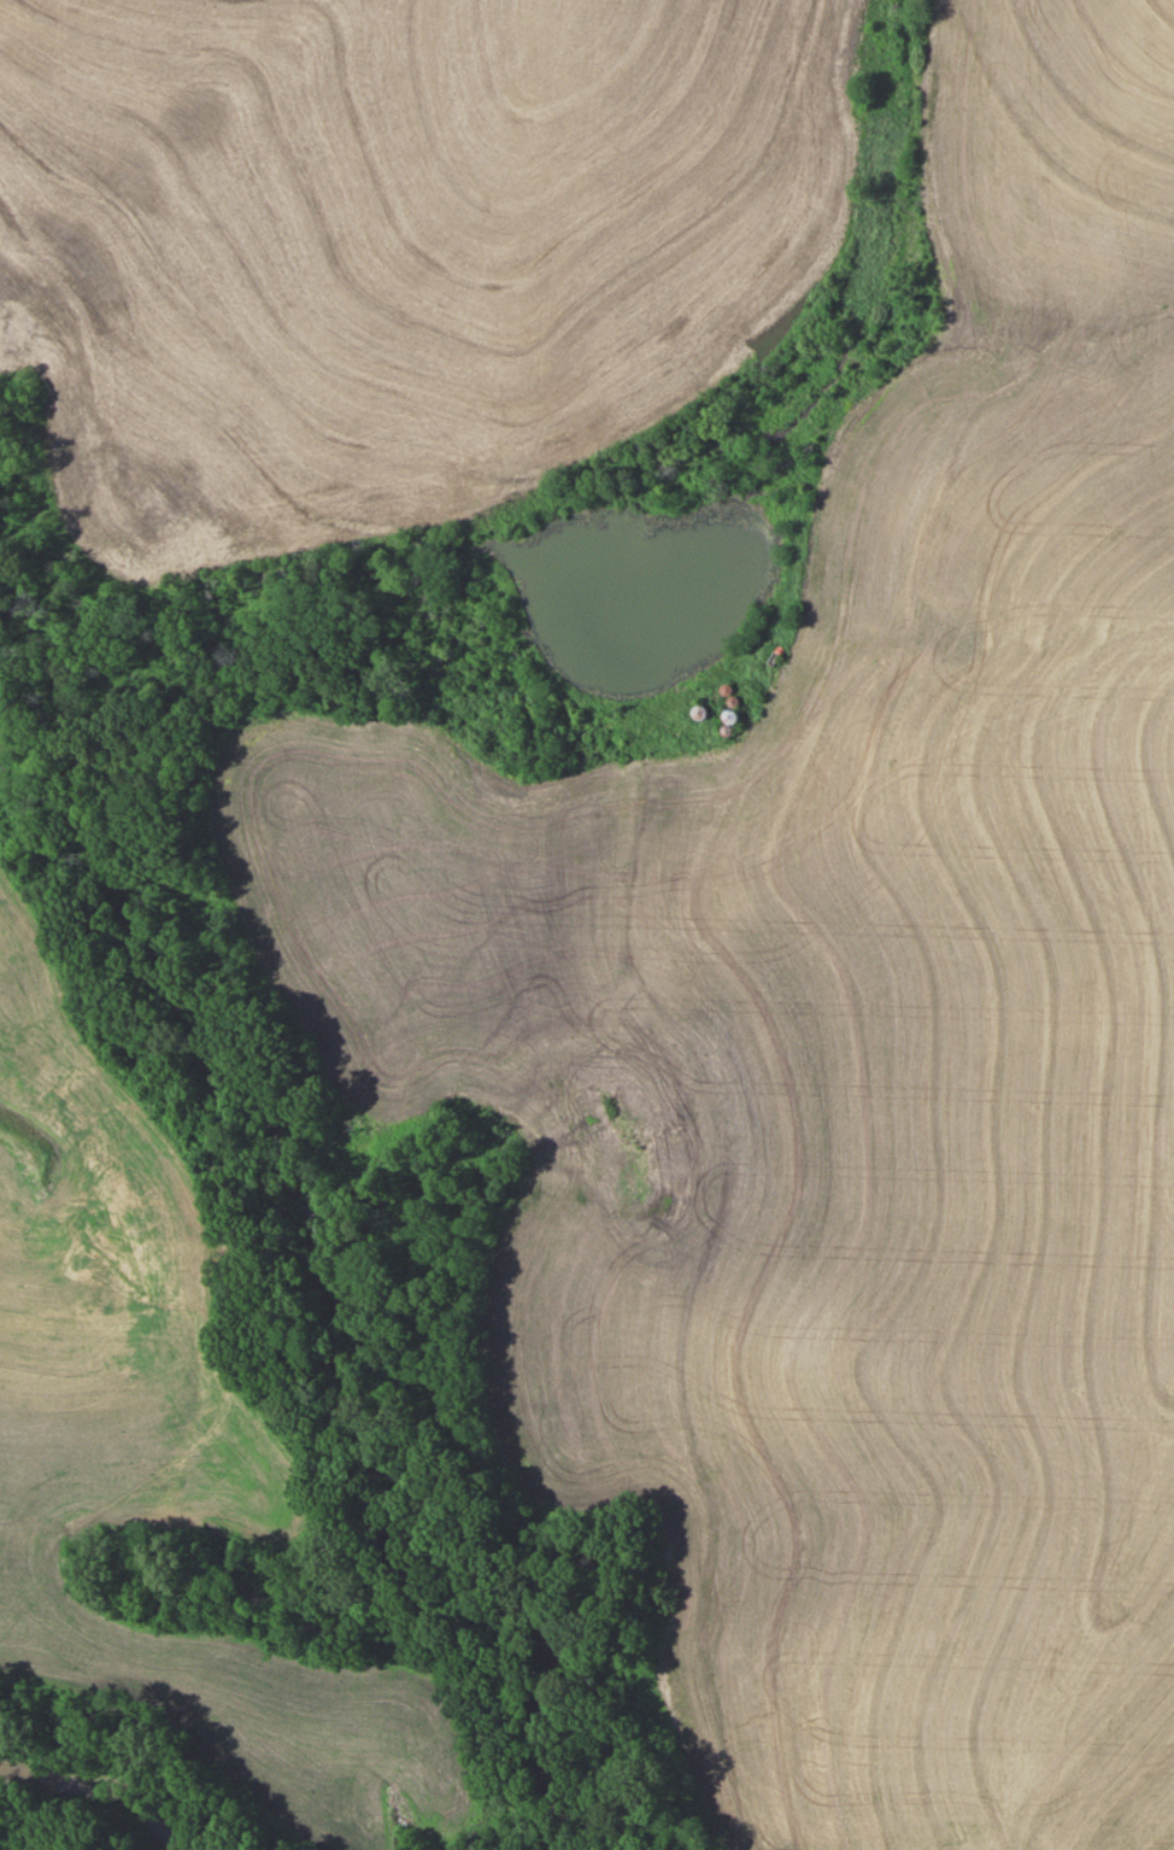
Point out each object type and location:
road: (976, 634)

